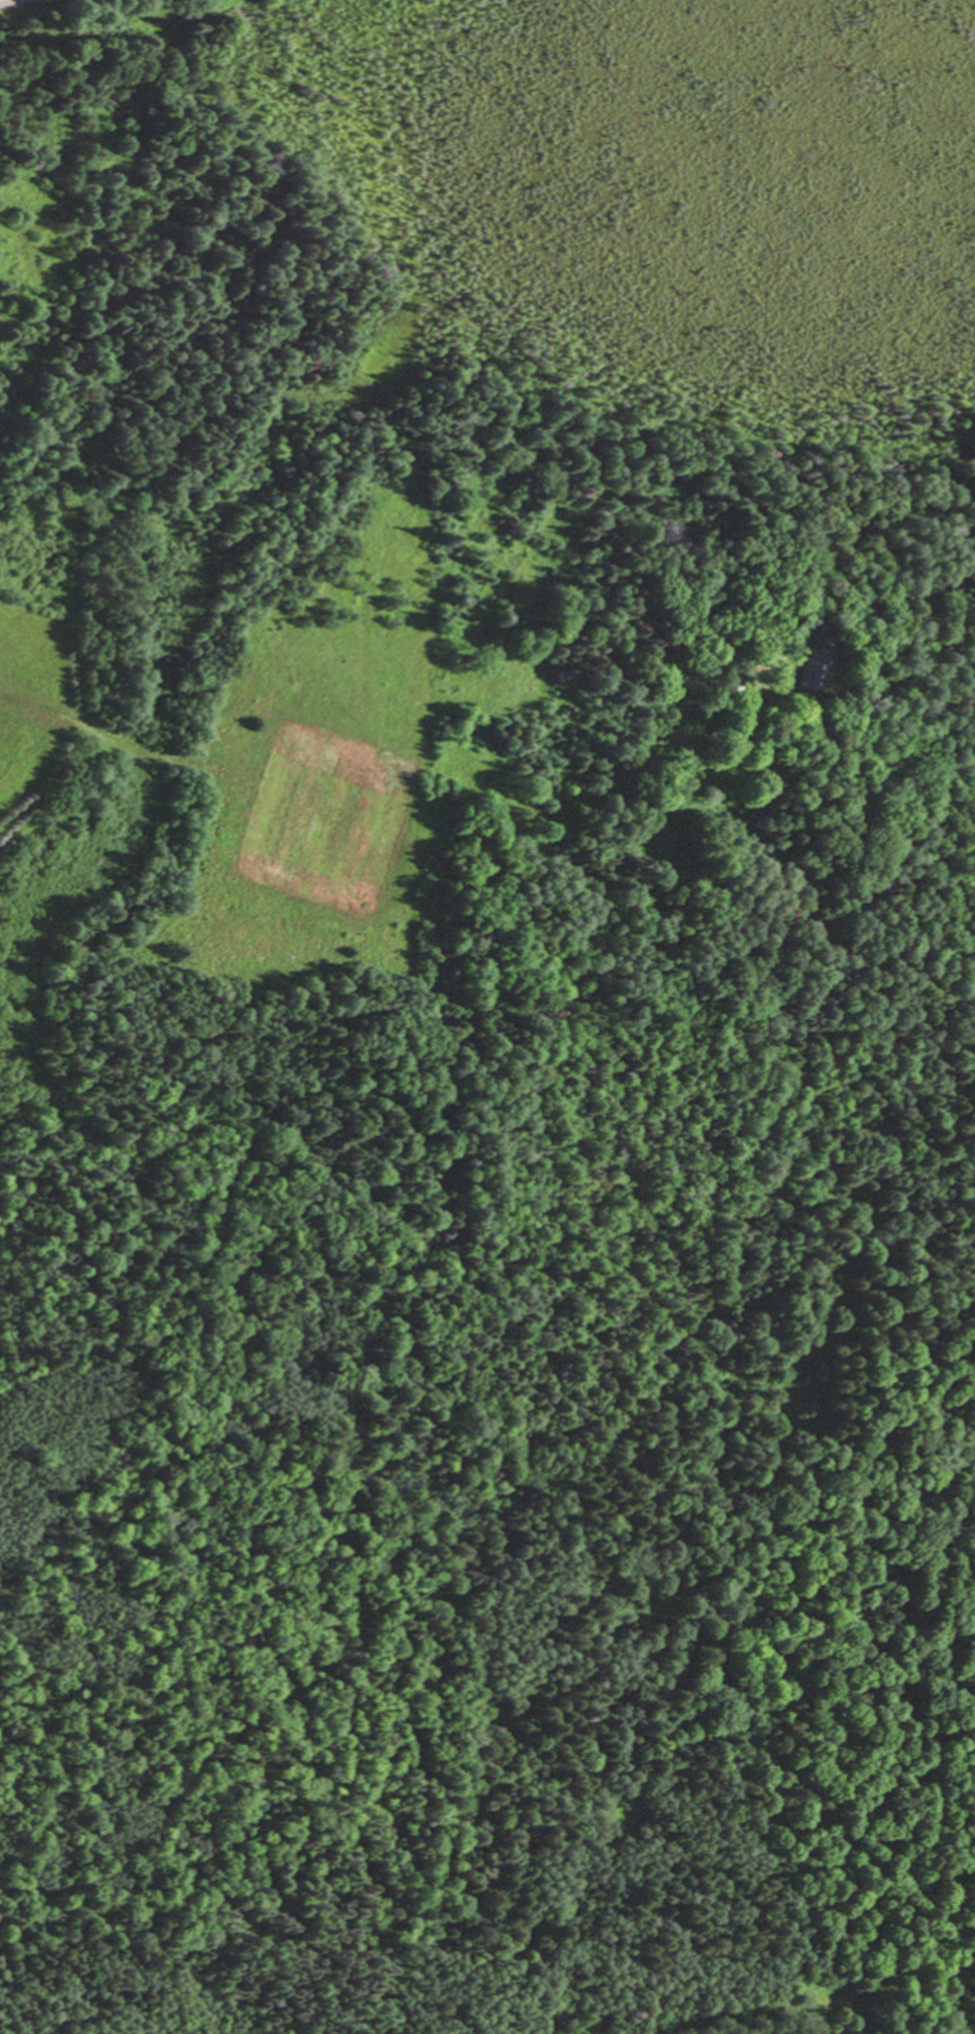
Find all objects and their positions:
road: (2, 0)
road: (902, 594)
building: (825, 668)

